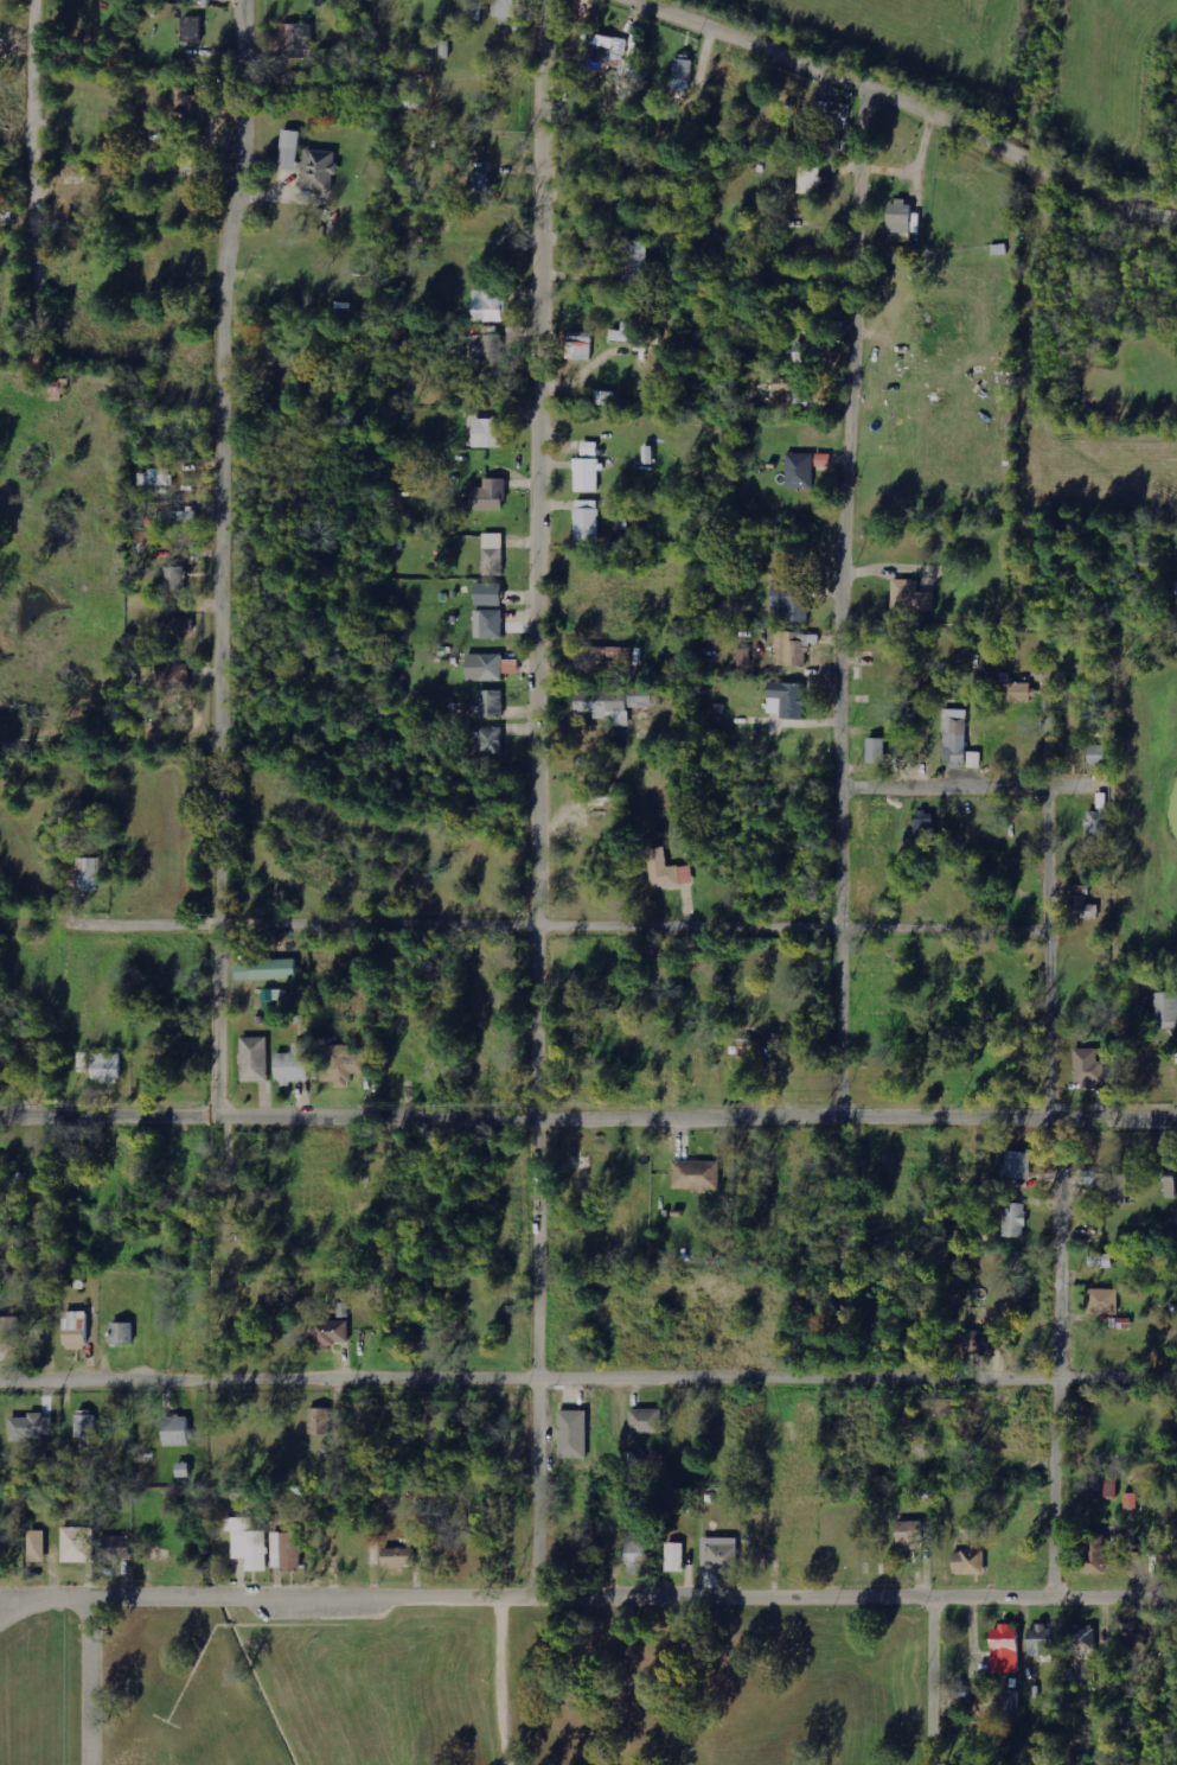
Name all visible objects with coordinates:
building: (203, 0)
building: (504, 8)
building: (473, 11)
building: (194, 28)
building: (300, 37)
building: (446, 50)
building: (607, 50)
building: (682, 75)
building: (723, 79)
road: (916, 100)
building: (190, 103)
road: (47, 146)
building: (294, 149)
building: (324, 170)
building: (479, 181)
building: (897, 216)
building: (634, 263)
building: (487, 306)
building: (618, 336)
building: (578, 345)
building: (487, 349)
building: (804, 352)
building: (605, 397)
building: (487, 433)
building: (821, 460)
building: (799, 471)
building: (156, 477)
building: (491, 495)
building: (586, 521)
road: (231, 552)
building: (492, 554)
building: (487, 594)
road: (851, 598)
building: (909, 599)
building: (792, 601)
building: (487, 624)
building: (179, 625)
building: (610, 652)
building: (487, 667)
building: (177, 676)
building: (1012, 686)
building: (786, 700)
building: (613, 702)
building: (491, 705)
building: (954, 738)
building: (492, 740)
building: (875, 751)
building: (1096, 754)
building: (974, 760)
road: (977, 785)
road: (546, 795)
building: (1096, 823)
building: (922, 826)
building: (666, 871)
building: (92, 873)
building: (1081, 904)
road: (555, 923)
building: (271, 969)
building: (1165, 1008)
building: (257, 1059)
building: (296, 1065)
building: (346, 1065)
building: (108, 1068)
building: (1087, 1068)
road: (588, 1113)
road: (1067, 1127)
building: (1017, 1165)
building: (696, 1174)
building: (1088, 1177)
building: (1170, 1186)
building: (1111, 1189)
building: (1013, 1219)
building: (1100, 1261)
building: (1102, 1301)
building: (6, 1328)
building: (79, 1330)
building: (126, 1332)
building: (330, 1333)
building: (975, 1342)
road: (588, 1374)
building: (318, 1420)
building: (645, 1420)
building: (34, 1427)
building: (88, 1429)
building: (174, 1431)
building: (571, 1434)
building: (183, 1470)
building: (1106, 1489)
building: (1131, 1500)
building: (908, 1534)
building: (247, 1543)
building: (81, 1544)
building: (39, 1546)
building: (284, 1550)
building: (635, 1554)
building: (1093, 1554)
building: (718, 1555)
building: (395, 1557)
building: (673, 1557)
building: (967, 1562)
road: (588, 1589)
road: (17, 1604)
building: (1079, 1639)
building: (1038, 1640)
building: (1003, 1649)
road: (942, 1677)
road: (90, 1678)
park: (518, 1683)
building: (1009, 1702)

